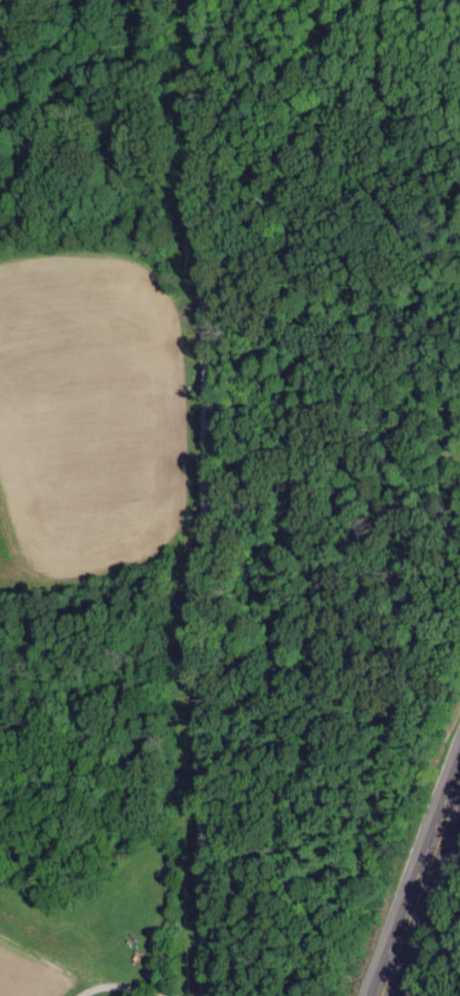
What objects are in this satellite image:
road: (208, 498)
road: (416, 877)

